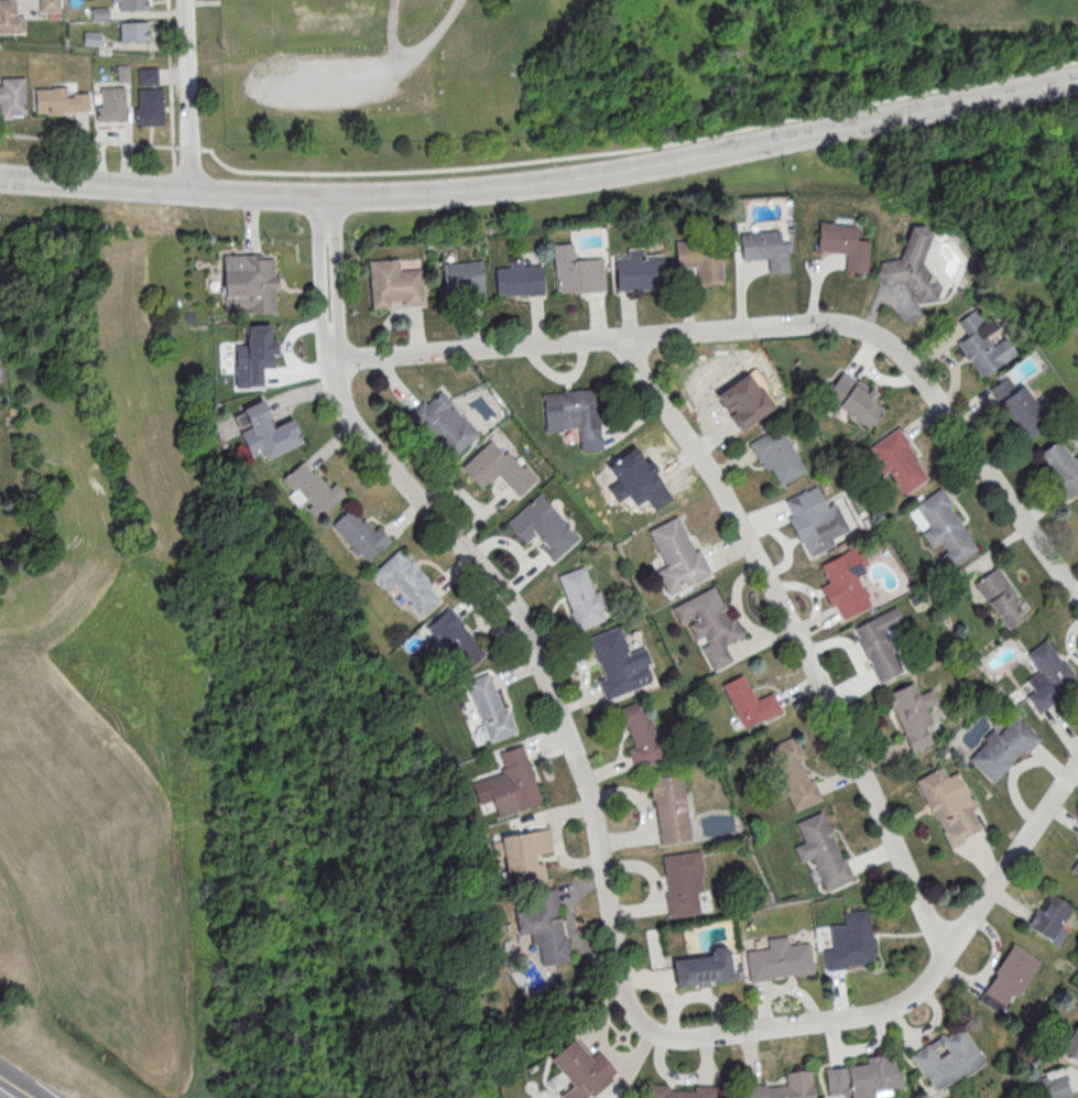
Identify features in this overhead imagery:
building: (130, 4)
building: (50, 8)
building: (10, 18)
building: (134, 31)
road: (392, 33)
park: (591, 59)
building: (148, 75)
road: (366, 75)
parking lot: (312, 80)
road: (171, 85)
road: (185, 96)
building: (12, 97)
building: (51, 100)
building: (109, 104)
building: (149, 107)
road: (89, 141)
road: (189, 148)
road: (639, 149)
park: (1021, 168)
road: (175, 181)
road: (543, 182)
road: (174, 197)
building: (845, 244)
building: (766, 249)
building: (703, 259)
building: (910, 267)
building: (578, 271)
building: (641, 271)
road: (318, 280)
road: (337, 280)
building: (520, 280)
building: (464, 281)
building: (250, 282)
building: (395, 284)
road: (770, 327)
building: (983, 345)
building: (255, 355)
building: (854, 398)
building: (748, 400)
building: (1016, 405)
building: (576, 415)
building: (444, 424)
building: (269, 432)
building: (778, 456)
building: (900, 460)
building: (1061, 466)
building: (498, 467)
road: (159, 474)
building: (632, 479)
building: (311, 490)
building: (817, 522)
building: (544, 526)
building: (946, 529)
building: (358, 534)
building: (679, 557)
building: (407, 581)
building: (847, 581)
building: (582, 597)
building: (1001, 597)
building: (712, 624)
building: (456, 639)
road: (794, 639)
building: (880, 643)
building: (620, 663)
building: (1048, 675)
park: (109, 678)
building: (749, 702)
building: (488, 707)
building: (914, 714)
building: (640, 733)
building: (1003, 748)
building: (795, 772)
building: (512, 783)
building: (949, 806)
building: (669, 808)
park: (340, 841)
building: (823, 850)
building: (524, 855)
building: (1074, 866)
building: (683, 883)
building: (545, 926)
road: (612, 938)
building: (852, 943)
building: (780, 959)
building: (700, 968)
building: (1008, 979)
building: (1072, 1044)
building: (948, 1058)
building: (581, 1069)
building: (863, 1077)
park: (28, 1079)
building: (1053, 1084)
building: (785, 1087)
road: (14, 1088)
building: (679, 1091)

